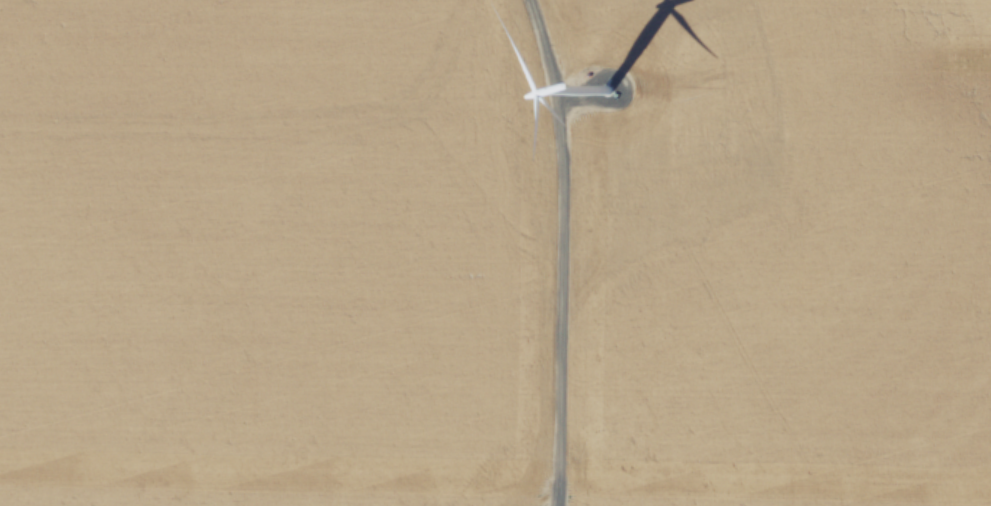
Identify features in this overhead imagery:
wind turbine: (607, 91)
road: (565, 251)

